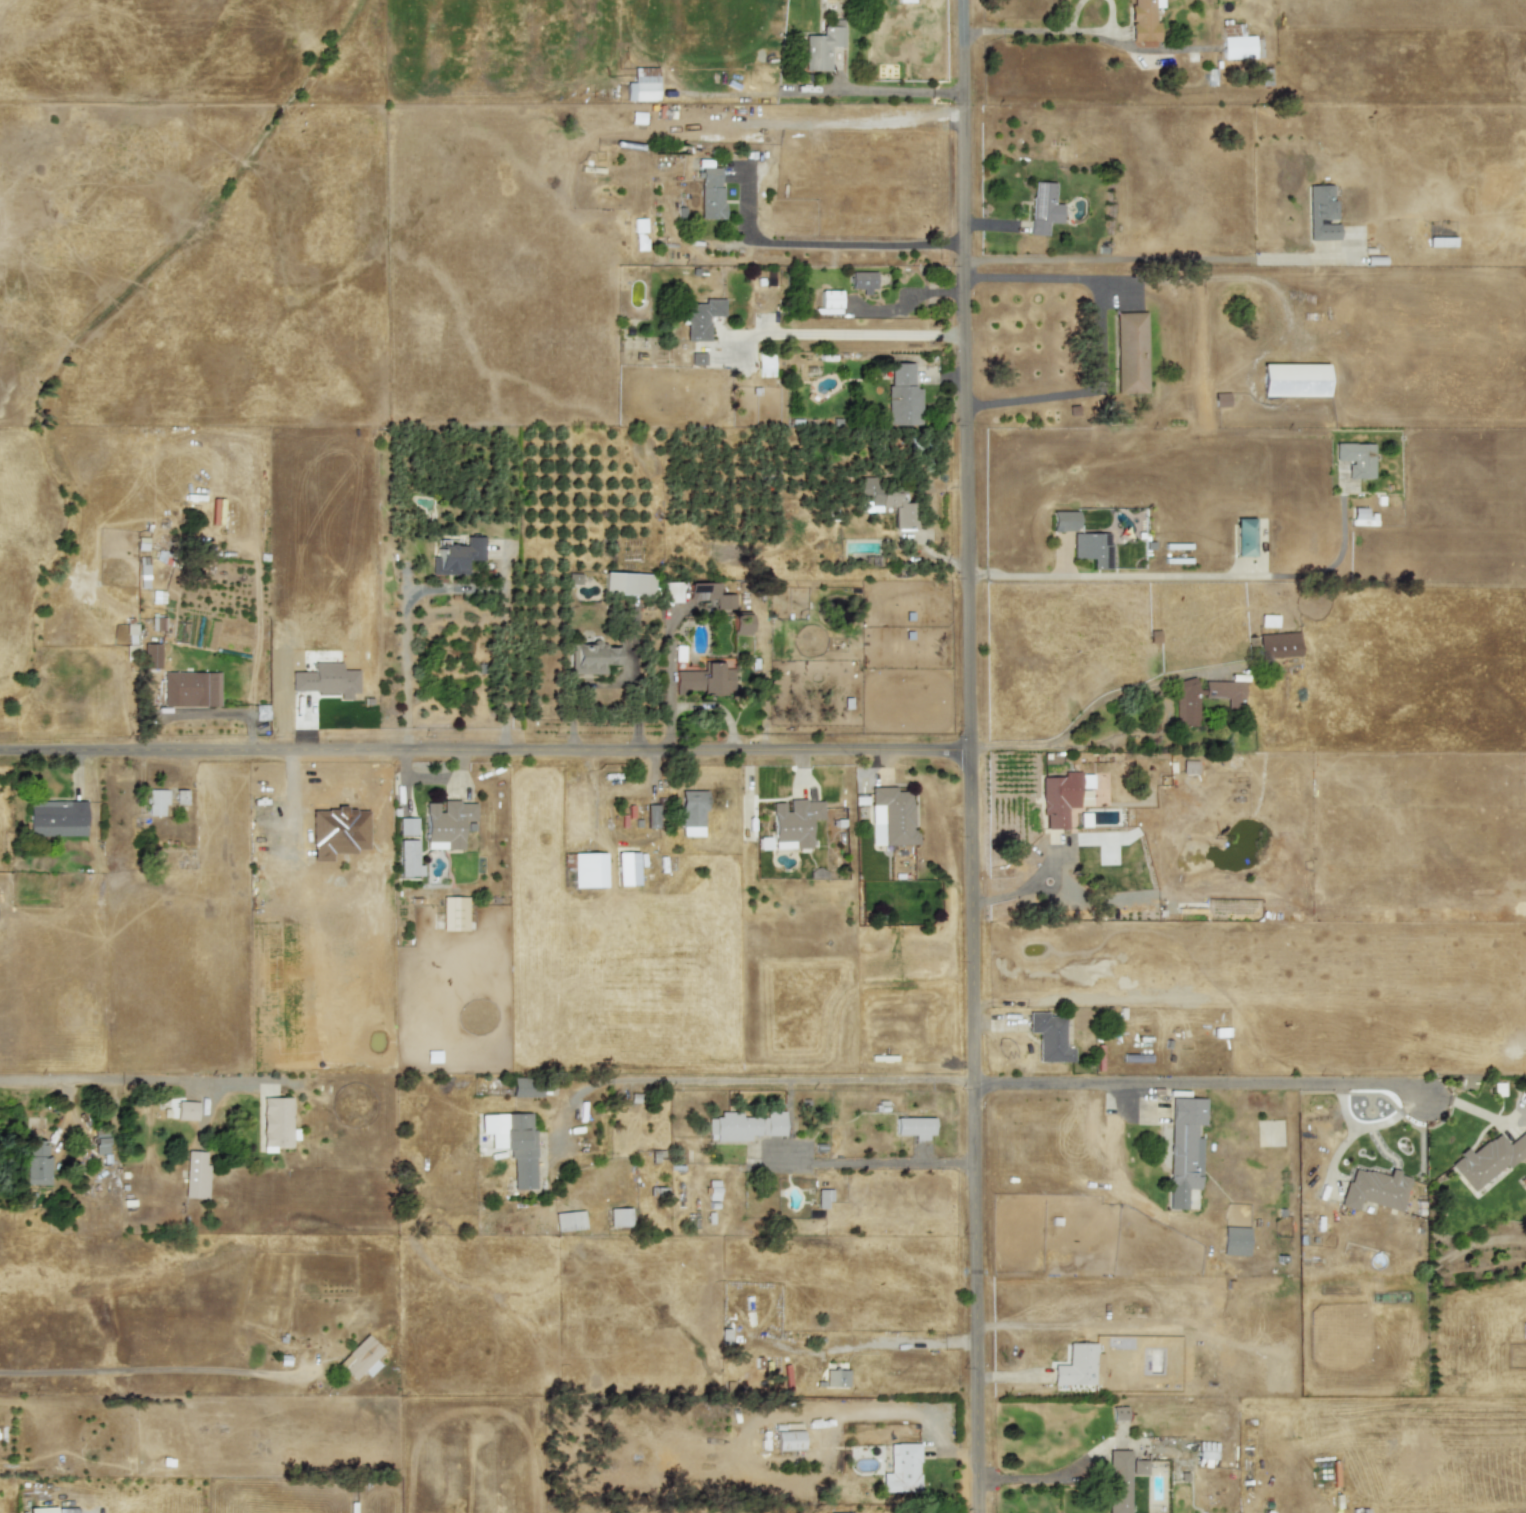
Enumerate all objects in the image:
building: (906, 1)
road: (958, 14)
road: (1070, 14)
building: (1144, 20)
road: (1011, 28)
road: (1097, 29)
building: (1239, 43)
building: (822, 45)
building: (642, 88)
road: (822, 94)
building: (637, 118)
building: (710, 193)
building: (1043, 208)
building: (1321, 213)
building: (1441, 242)
road: (825, 244)
road: (1165, 257)
road: (1084, 278)
building: (862, 282)
building: (830, 298)
building: (701, 318)
road: (859, 333)
building: (1131, 353)
building: (697, 358)
building: (764, 364)
building: (1293, 380)
building: (902, 396)
road: (1028, 398)
building: (1221, 400)
building: (1355, 459)
building: (886, 502)
building: (1362, 517)
building: (1064, 520)
building: (1244, 537)
building: (1092, 548)
road: (1100, 576)
building: (573, 578)
building: (627, 584)
road: (455, 589)
building: (672, 592)
building: (710, 595)
building: (1268, 621)
building: (157, 623)
building: (740, 624)
building: (131, 634)
building: (1279, 645)
building: (151, 656)
building: (592, 657)
building: (705, 680)
road: (1129, 687)
road: (572, 688)
building: (188, 689)
building: (1223, 690)
road: (634, 699)
building: (1185, 703)
building: (261, 712)
road: (483, 753)
building: (1189, 766)
road: (966, 771)
building: (180, 796)
building: (1063, 797)
building: (156, 801)
building: (691, 813)
building: (893, 815)
building: (652, 816)
building: (57, 818)
building: (794, 823)
building: (446, 824)
building: (407, 826)
building: (408, 858)
building: (567, 861)
building: (626, 868)
building: (588, 870)
building: (454, 913)
building: (1048, 1037)
building: (433, 1056)
road: (123, 1079)
road: (742, 1081)
road: (1202, 1081)
building: (526, 1087)
building: (187, 1111)
building: (276, 1121)
building: (772, 1123)
building: (732, 1127)
building: (914, 1127)
building: (101, 1141)
building: (513, 1143)
building: (1184, 1149)
building: (1487, 1159)
road: (845, 1160)
building: (35, 1163)
building: (196, 1174)
building: (1374, 1189)
building: (712, 1190)
building: (823, 1197)
building: (619, 1217)
building: (569, 1220)
building: (1235, 1241)
building: (724, 1336)
road: (861, 1346)
building: (361, 1358)
building: (1076, 1365)
building: (1098, 1367)
road: (152, 1368)
building: (836, 1378)
building: (1119, 1413)
building: (788, 1440)
building: (1205, 1454)
building: (1139, 1467)
building: (901, 1469)
road: (1050, 1479)
building: (1118, 1481)
building: (41, 1510)

